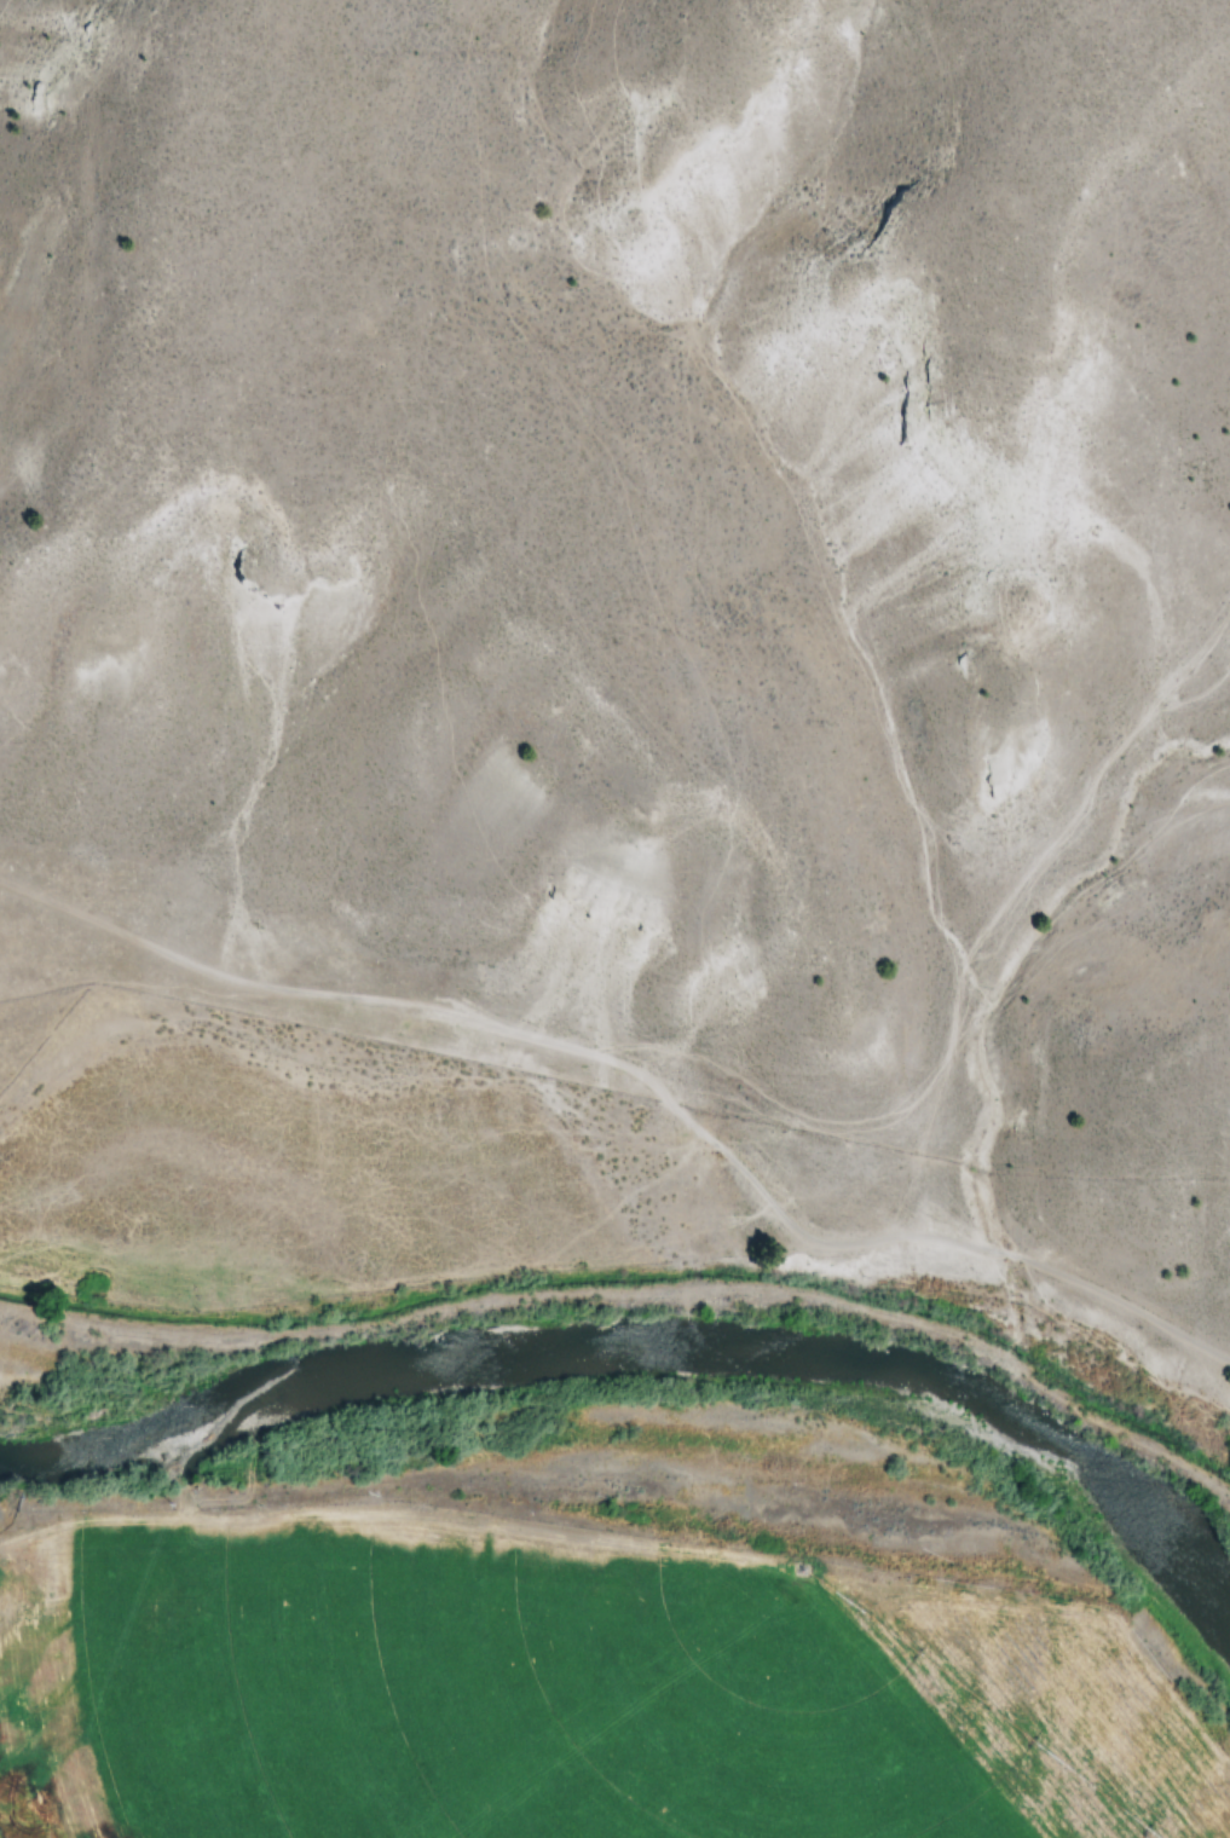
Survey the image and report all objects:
river: (659, 1356)

